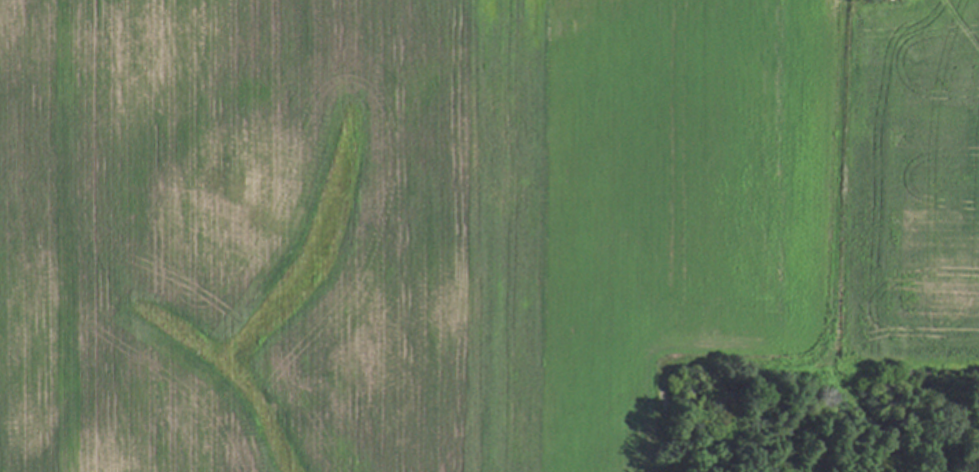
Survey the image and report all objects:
crop: (463, 221)

